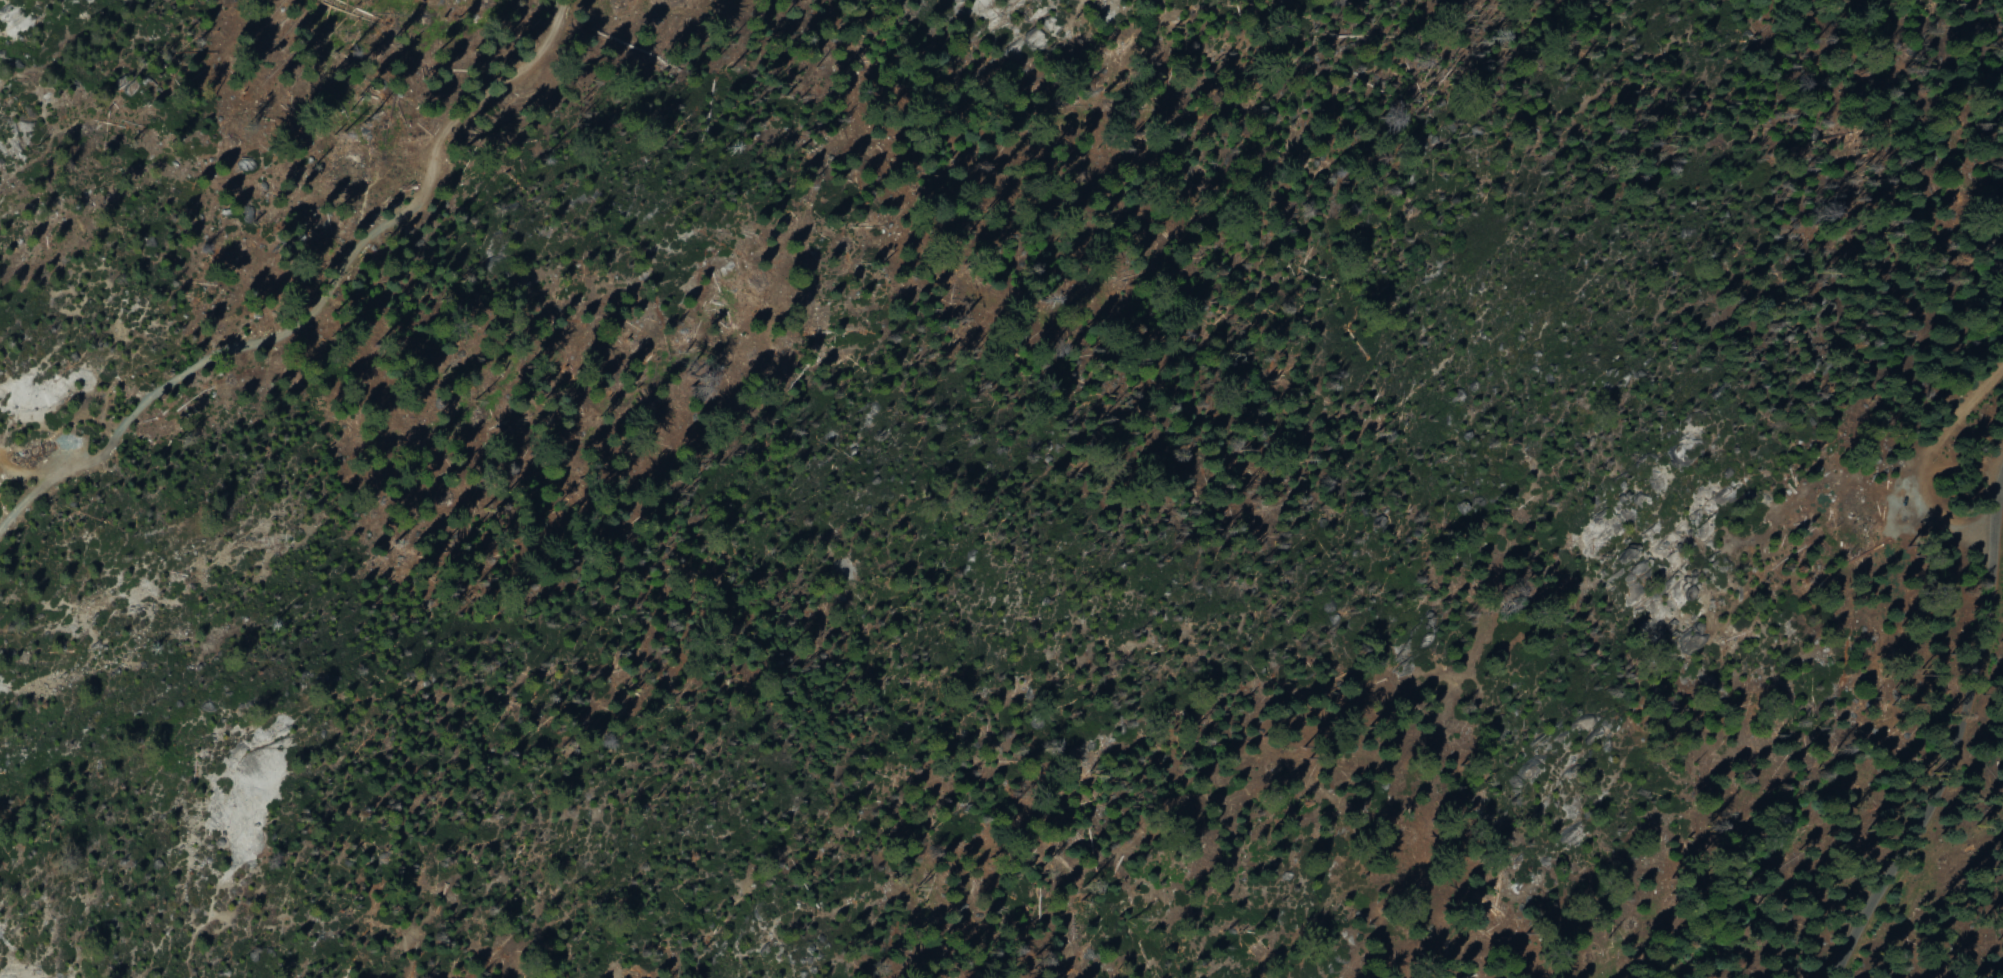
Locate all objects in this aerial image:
road: (325, 307)
road: (1961, 741)

